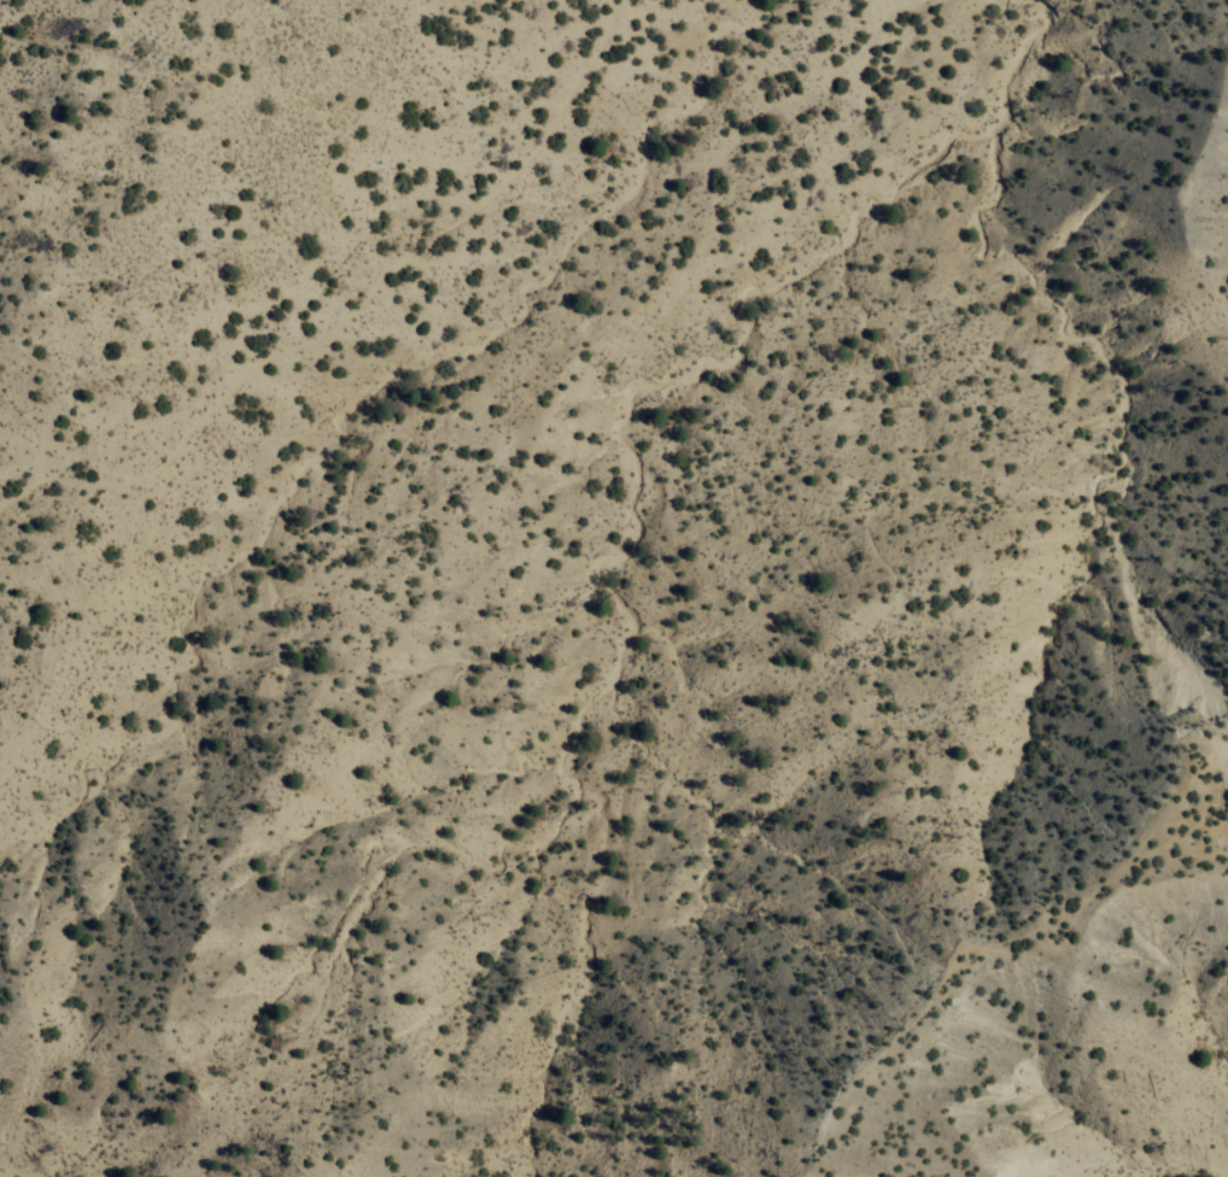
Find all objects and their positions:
road: (353, 315)

